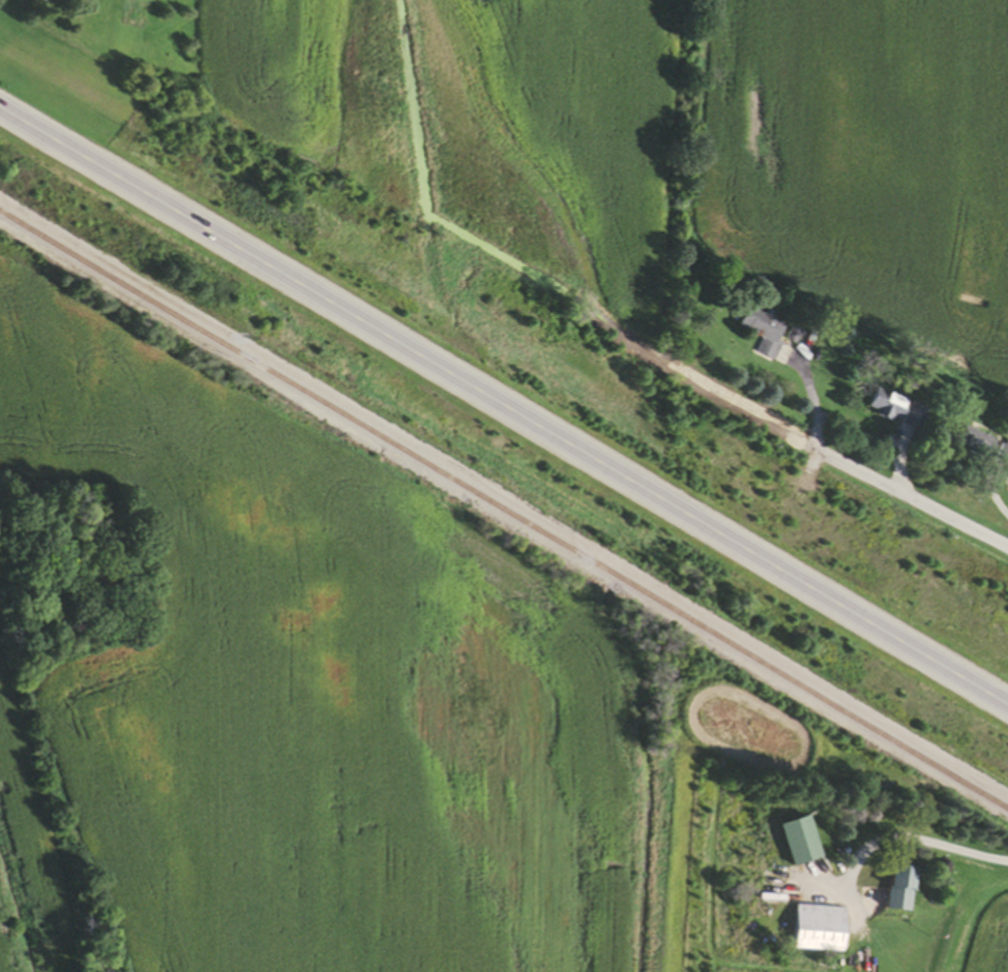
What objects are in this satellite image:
building: (767, 333)
road: (504, 404)
building: (900, 411)
building: (978, 444)
building: (1003, 457)
road: (883, 481)
railway: (504, 512)
road: (918, 842)
building: (803, 843)
building: (904, 890)
building: (821, 931)

